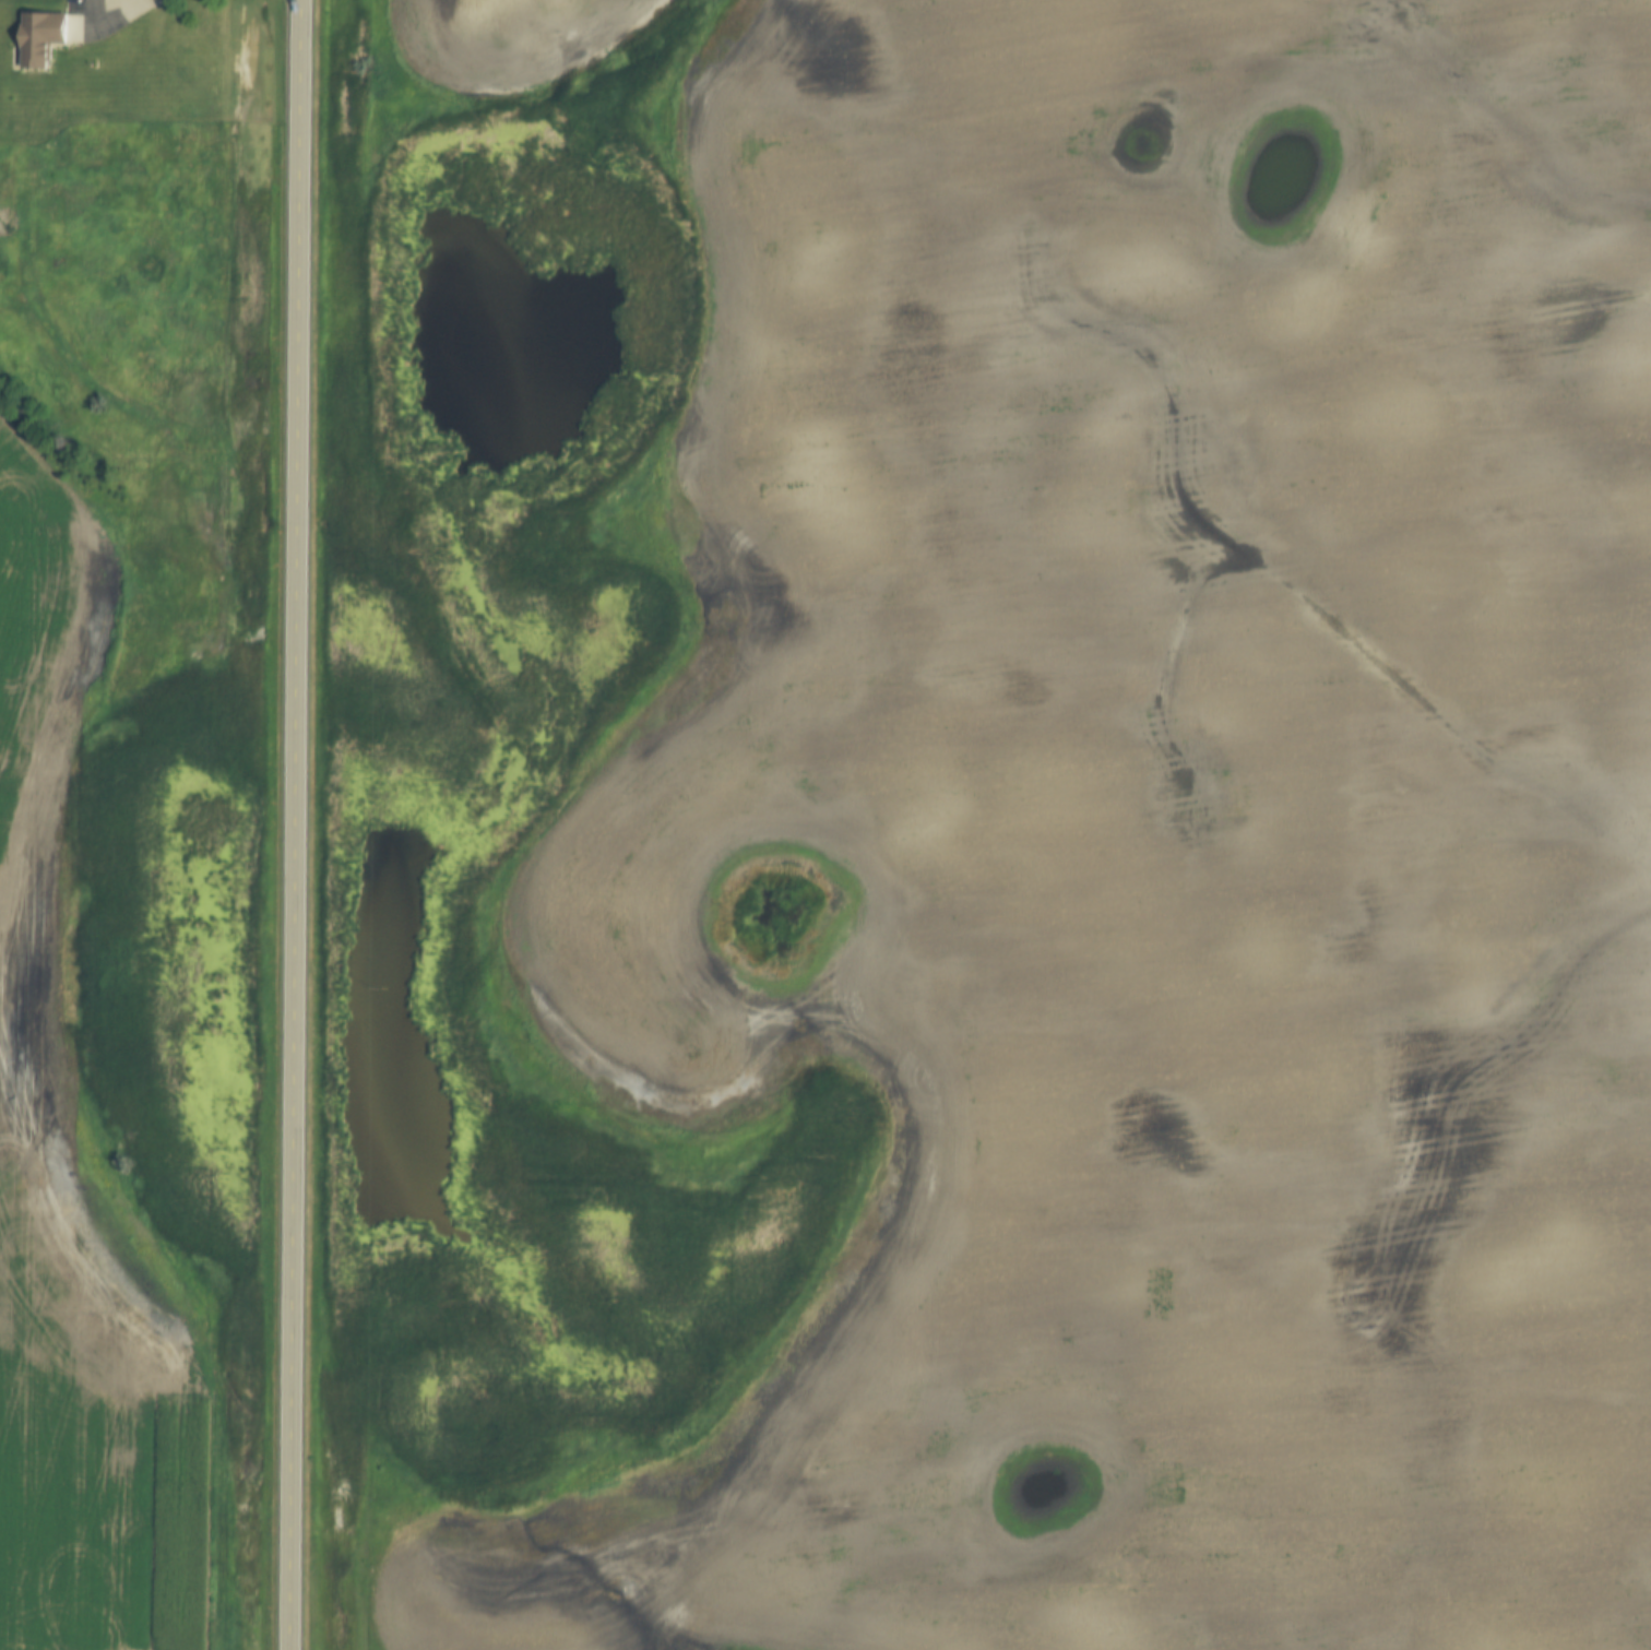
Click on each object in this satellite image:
building: (39, 36)
road: (298, 824)

